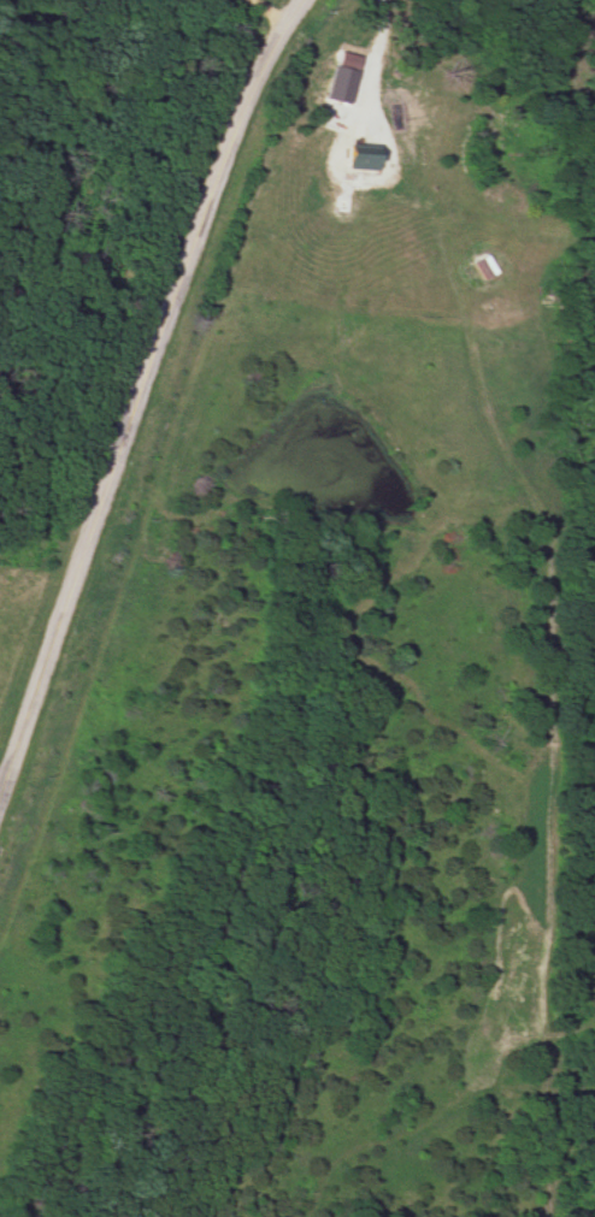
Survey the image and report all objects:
road: (278, 7)
building: (353, 147)
road: (143, 397)

